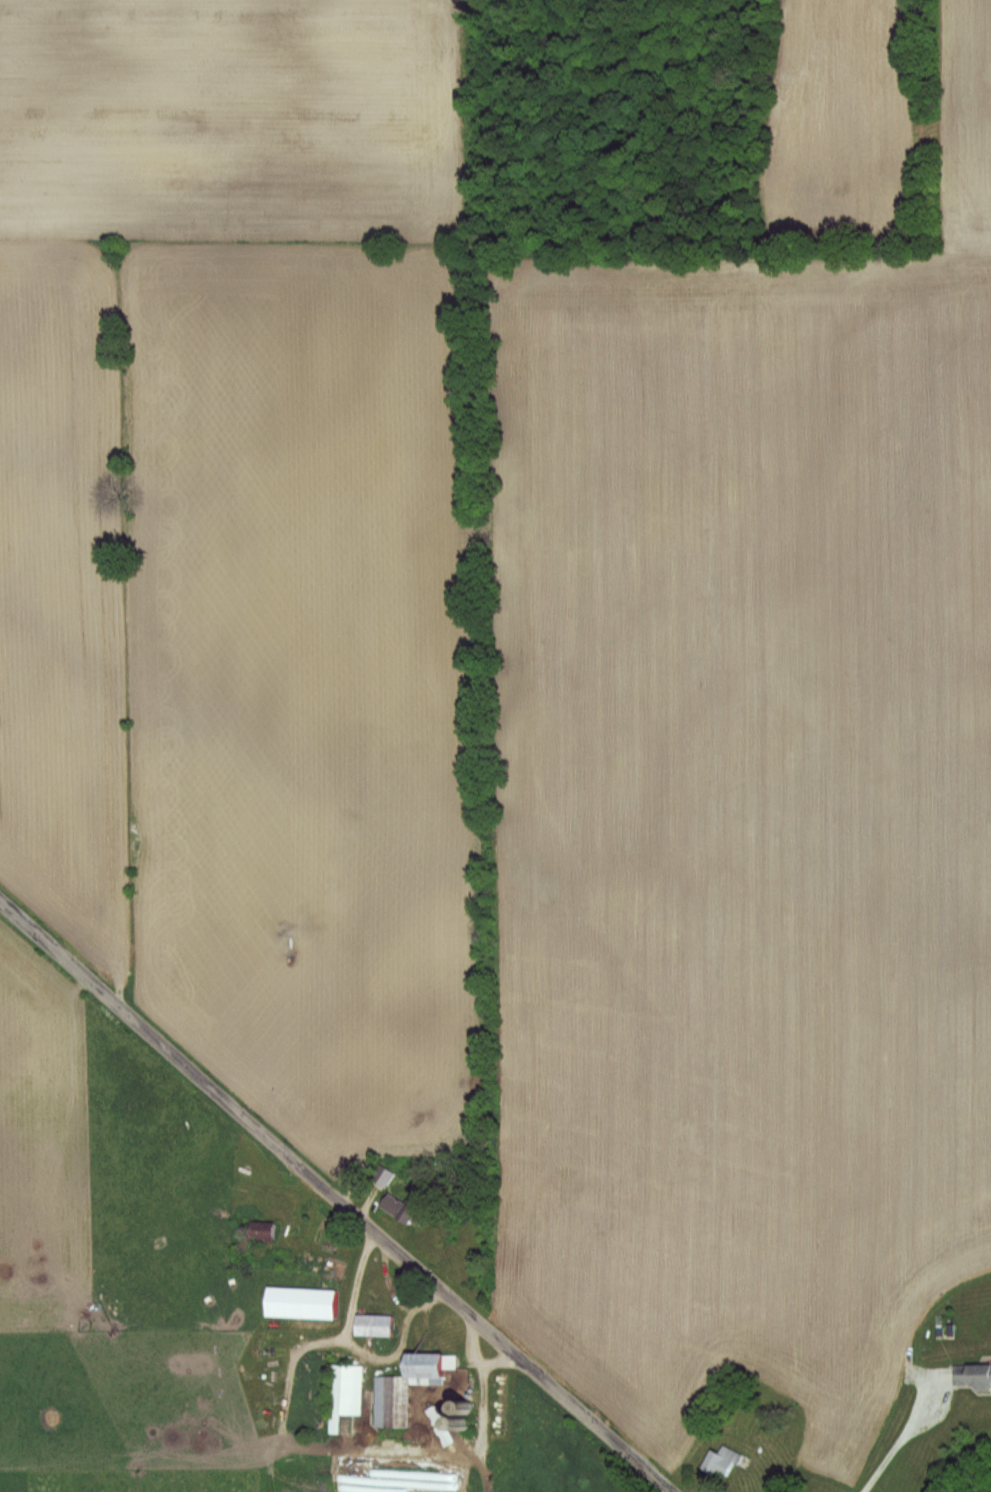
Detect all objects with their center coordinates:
road: (16, 917)
building: (380, 1177)
building: (393, 1208)
road: (351, 1211)
building: (258, 1232)
building: (296, 1303)
building: (370, 1325)
building: (970, 1375)
building: (405, 1387)
road: (926, 1390)
building: (344, 1393)
building: (455, 1417)
building: (720, 1462)
road: (883, 1463)

